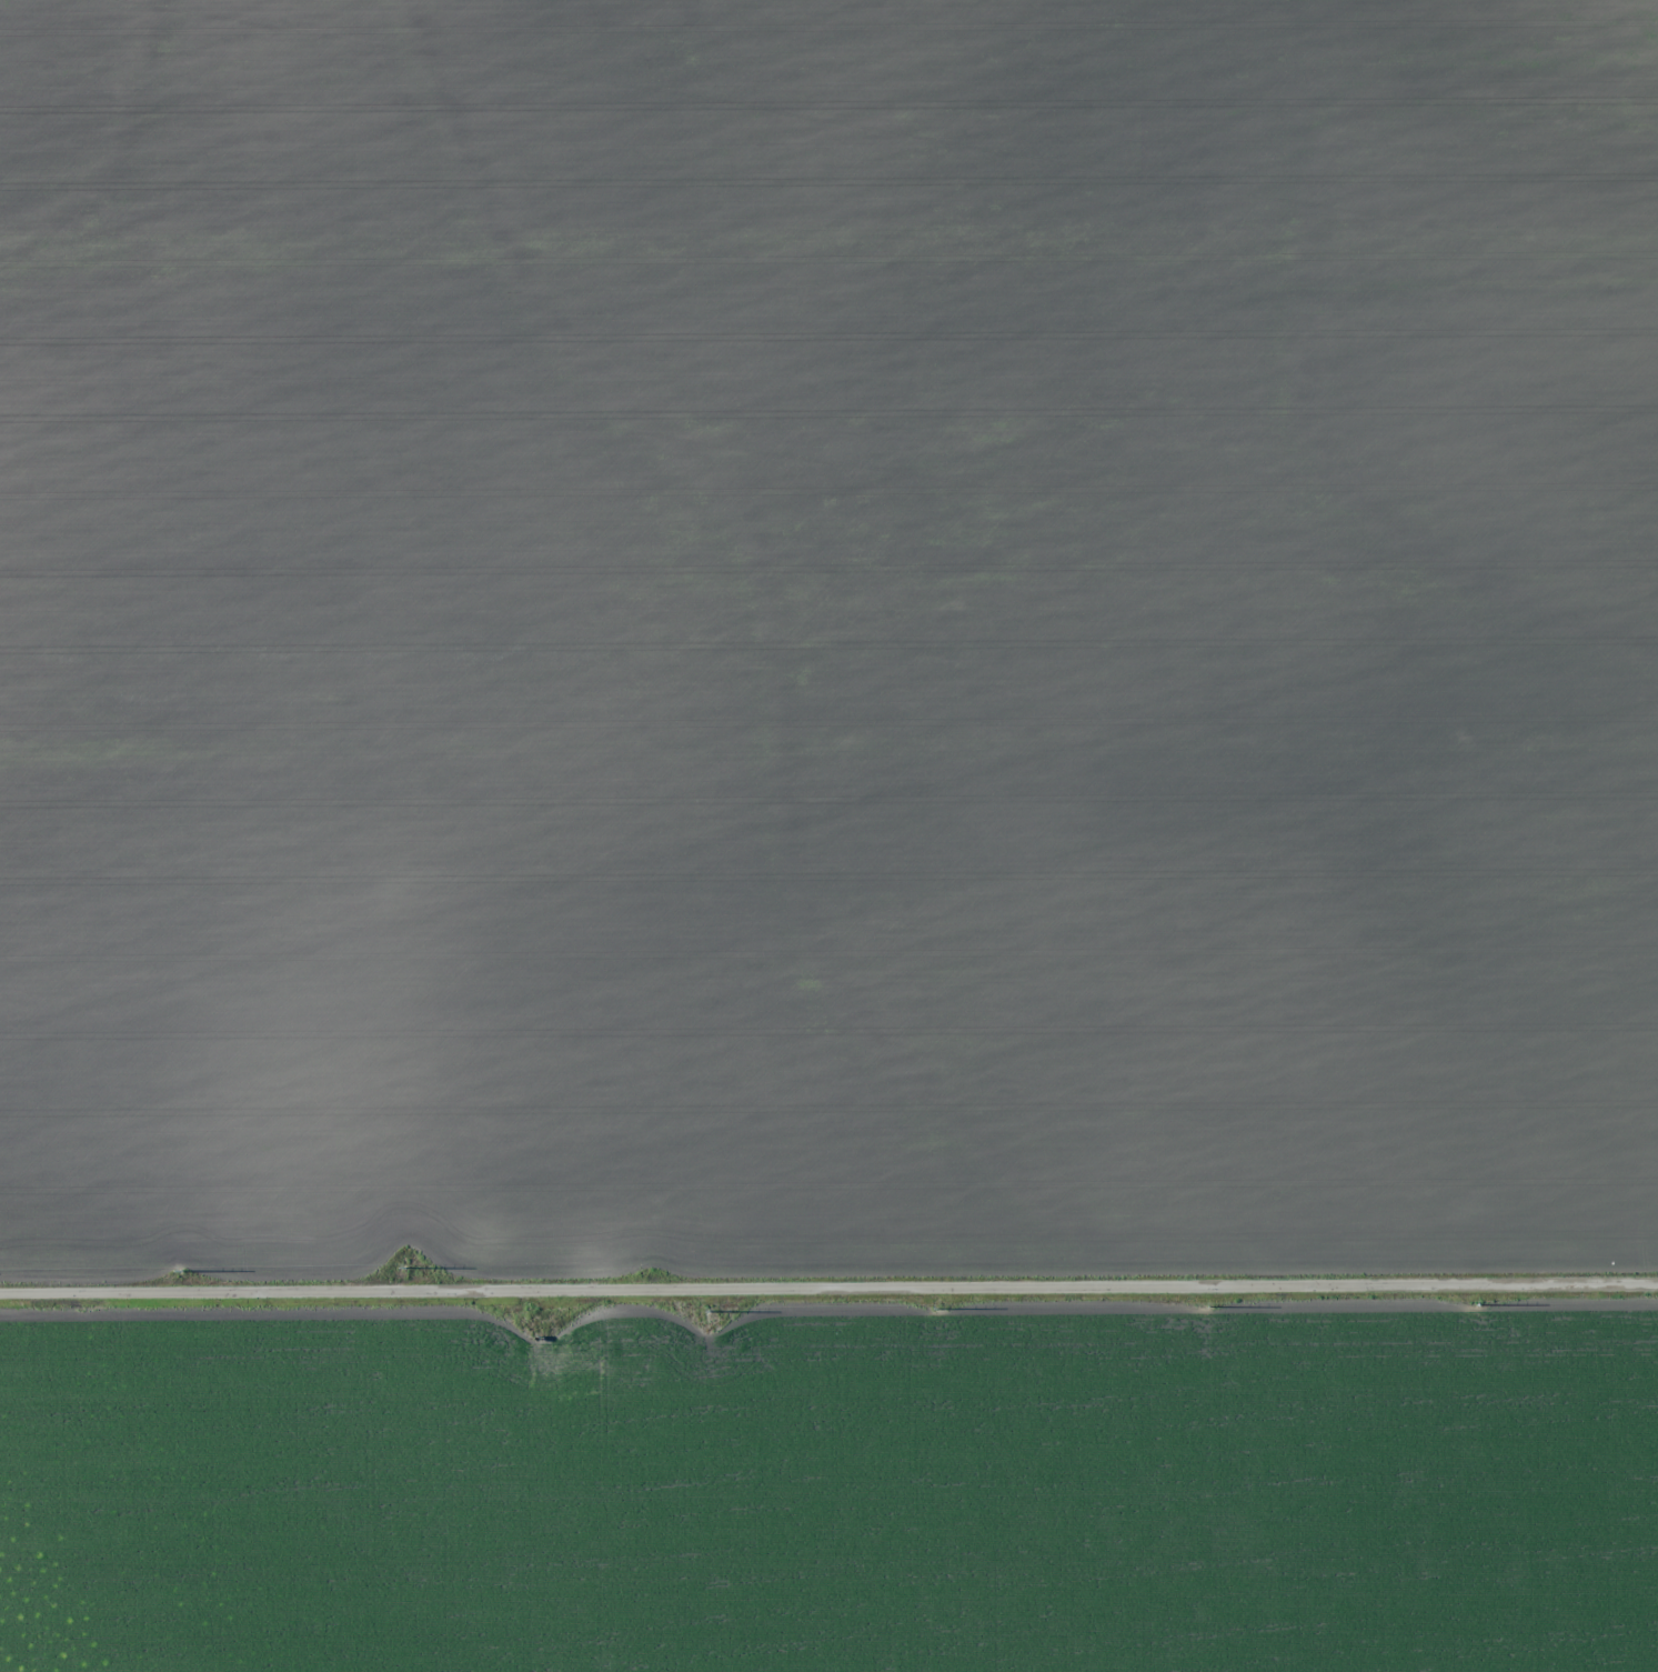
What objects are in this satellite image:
power tower: (404, 1269)
power tower: (181, 1273)
road: (828, 1292)
power tower: (1480, 1303)
power tower: (941, 1306)
power tower: (1205, 1306)
power tower: (710, 1309)

